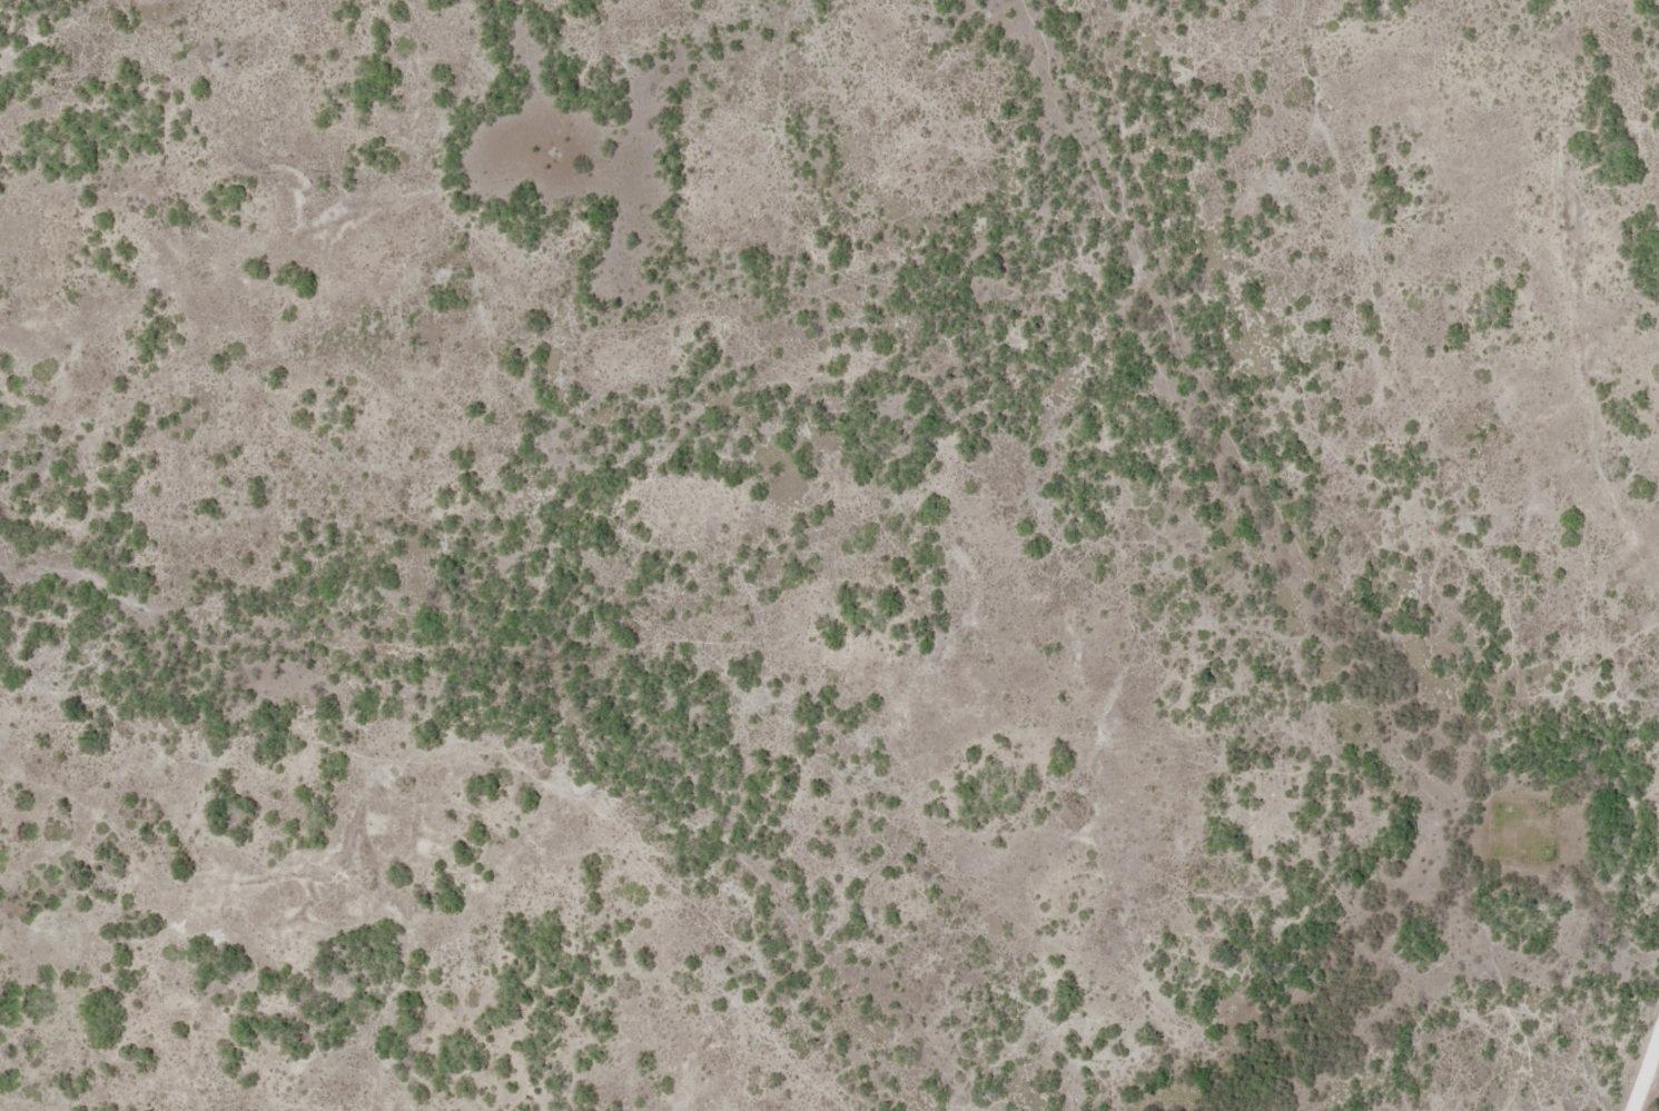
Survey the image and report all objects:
road: (1649, 32)
road: (1658, 1110)

